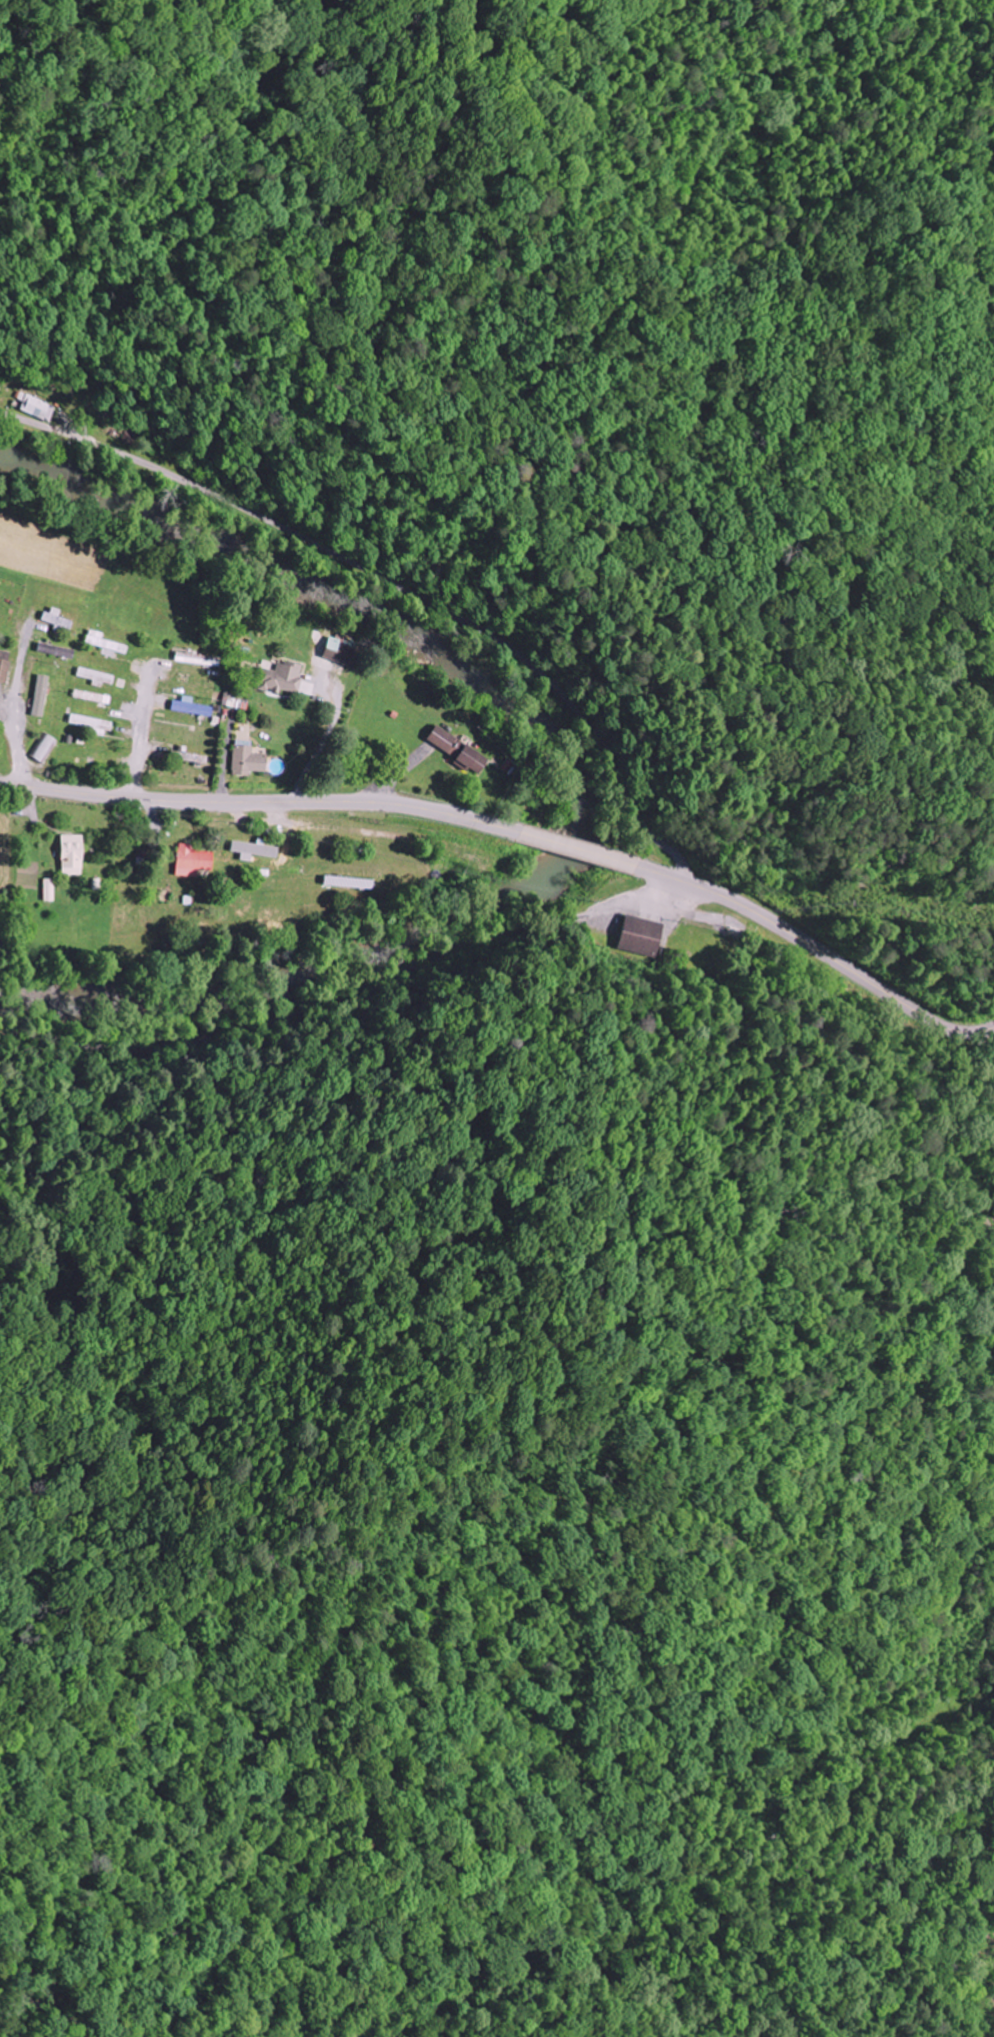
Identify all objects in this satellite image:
building: (38, 407)
road: (399, 583)
building: (103, 644)
building: (341, 653)
building: (3, 665)
building: (93, 677)
building: (281, 678)
building: (39, 696)
building: (189, 707)
road: (14, 711)
building: (88, 723)
road: (141, 733)
building: (455, 750)
building: (246, 761)
river: (587, 779)
road: (260, 800)
road: (576, 848)
building: (253, 850)
building: (71, 855)
building: (191, 861)
building: (48, 890)
building: (640, 936)
road: (817, 945)
road: (989, 1046)
road: (445, 1182)
road: (925, 1753)

